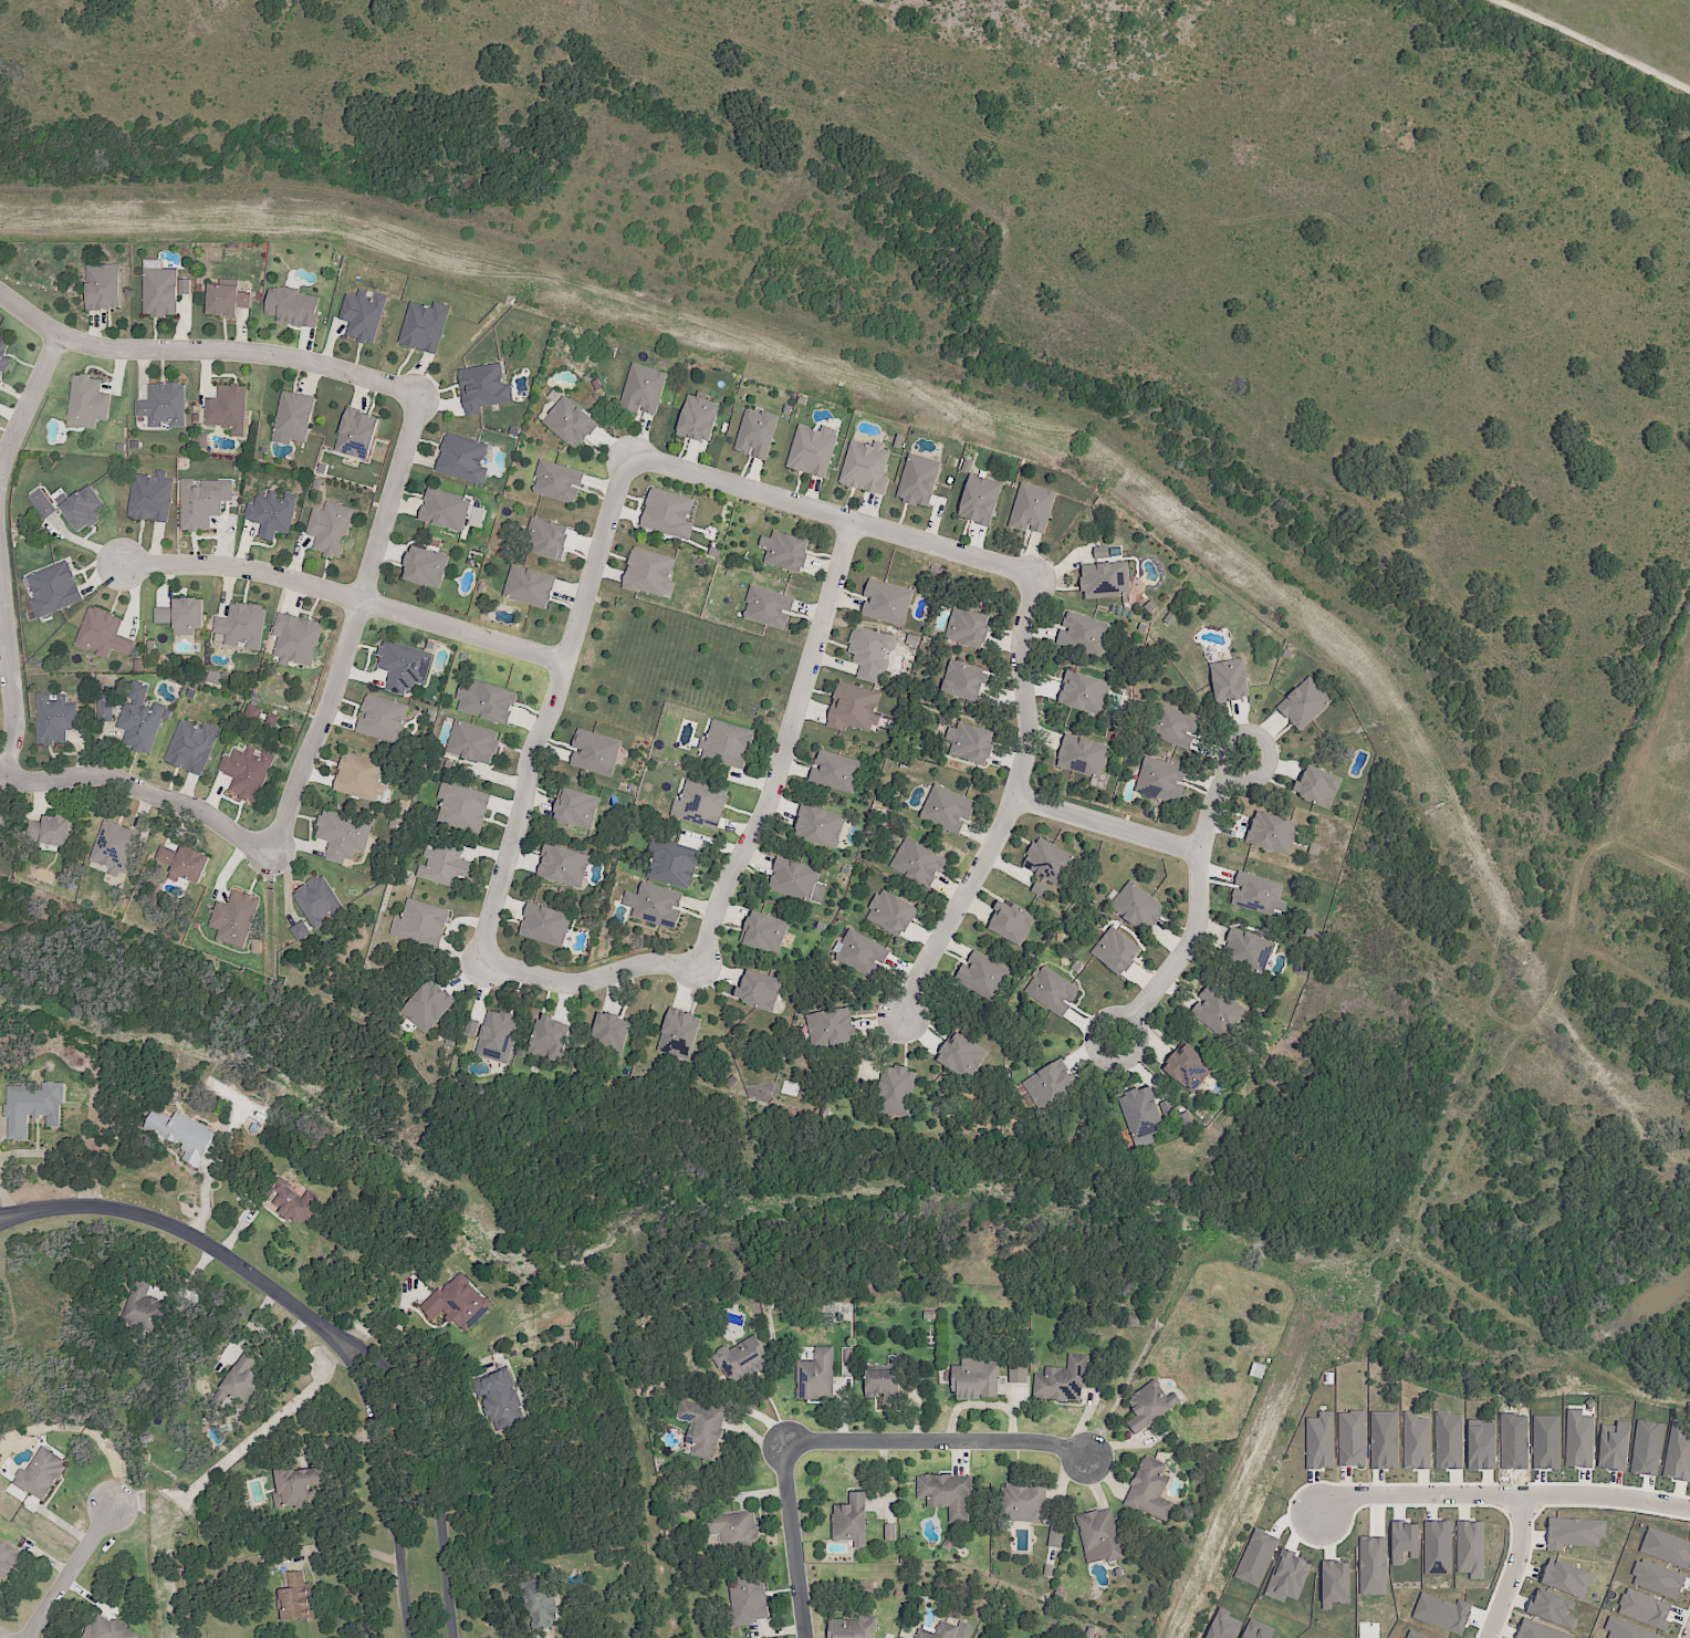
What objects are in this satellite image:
building: (105, 286)
building: (161, 291)
building: (227, 300)
building: (294, 307)
building: (359, 315)
building: (422, 325)
road: (207, 351)
building: (6, 354)
building: (482, 387)
building: (641, 388)
road: (30, 403)
building: (86, 404)
building: (165, 405)
building: (229, 409)
building: (293, 414)
building: (698, 417)
building: (571, 420)
building: (357, 427)
building: (754, 430)
building: (201, 440)
building: (810, 449)
building: (462, 455)
building: (865, 465)
building: (919, 478)
building: (557, 480)
building: (152, 498)
building: (979, 501)
building: (43, 503)
building: (199, 505)
building: (84, 509)
building: (447, 509)
building: (668, 510)
building: (1030, 510)
building: (277, 511)
road: (832, 515)
building: (334, 525)
building: (546, 535)
building: (790, 550)
building: (426, 564)
building: (654, 574)
building: (1104, 574)
building: (54, 585)
building: (528, 585)
road: (348, 597)
building: (886, 598)
building: (769, 604)
building: (182, 616)
building: (243, 620)
building: (968, 626)
road: (353, 632)
building: (1083, 632)
building: (105, 633)
building: (299, 638)
building: (872, 651)
building: (405, 664)
park: (667, 667)
road: (10, 671)
building: (967, 679)
building: (1233, 685)
building: (1082, 689)
building: (493, 696)
building: (106, 703)
building: (854, 706)
building: (1307, 706)
road: (552, 707)
building: (252, 711)
building: (388, 717)
building: (140, 718)
building: (56, 719)
building: (271, 720)
building: (1178, 732)
building: (729, 742)
building: (973, 742)
building: (474, 743)
building: (191, 748)
road: (785, 749)
building: (595, 751)
building: (1077, 752)
building: (257, 768)
building: (836, 770)
building: (366, 775)
building: (1165, 784)
road: (139, 791)
building: (1323, 791)
building: (469, 802)
building: (576, 802)
building: (701, 803)
building: (947, 806)
road: (1010, 806)
building: (2, 818)
building: (820, 823)
road: (1107, 826)
building: (1269, 828)
building: (54, 830)
building: (344, 831)
building: (117, 847)
building: (1050, 859)
building: (184, 860)
building: (920, 862)
building: (566, 863)
building: (675, 864)
building: (450, 865)
building: (791, 878)
building: (1040, 889)
road: (1614, 893)
building: (1259, 895)
building: (322, 901)
building: (661, 906)
road: (1198, 906)
building: (1141, 910)
building: (234, 918)
building: (896, 918)
building: (426, 922)
building: (544, 922)
building: (762, 926)
building: (1013, 928)
building: (299, 931)
building: (1249, 947)
building: (1119, 954)
building: (865, 957)
building: (982, 978)
road: (585, 982)
building: (763, 992)
building: (1055, 994)
building: (431, 1002)
building: (1223, 1015)
building: (615, 1027)
building: (680, 1029)
building: (494, 1033)
building: (836, 1034)
building: (550, 1036)
building: (961, 1048)
building: (1183, 1065)
building: (894, 1084)
building: (783, 1088)
building: (1055, 1089)
building: (33, 1107)
building: (1147, 1113)
building: (184, 1135)
road: (205, 1190)
building: (299, 1202)
road: (28, 1213)
road: (27, 1220)
road: (195, 1239)
road: (1386, 1241)
building: (453, 1300)
building: (145, 1310)
building: (744, 1363)
building: (1018, 1374)
road: (450, 1376)
building: (818, 1377)
building: (1066, 1379)
building: (242, 1381)
building: (978, 1383)
building: (887, 1385)
building: (500, 1401)
road: (968, 1406)
building: (1155, 1410)
road: (1014, 1412)
road: (758, 1417)
road: (1086, 1417)
road: (843, 1421)
road: (916, 1421)
building: (705, 1429)
road: (755, 1436)
building: (1350, 1439)
building: (1578, 1439)
building: (1384, 1440)
building: (1319, 1441)
building: (1416, 1441)
building: (1448, 1441)
road: (337, 1443)
road: (938, 1444)
road: (1124, 1444)
building: (1613, 1447)
building: (1678, 1453)
road: (432, 1454)
road: (962, 1462)
road: (389, 1470)
building: (41, 1475)
road: (884, 1478)
road: (1108, 1479)
road: (1064, 1480)
road: (1096, 1481)
building: (299, 1488)
building: (1156, 1493)
road: (1502, 1493)
road: (761, 1495)
building: (950, 1498)
building: (1031, 1503)
building: (852, 1520)
building: (738, 1531)
building: (894, 1532)
building: (1574, 1533)
building: (1055, 1535)
building: (1103, 1536)
road: (795, 1541)
building: (948, 1543)
building: (1404, 1543)
building: (1437, 1547)
building: (1470, 1548)
road: (352, 1551)
building: (11, 1559)
building: (1371, 1566)
road: (1514, 1566)
road: (71, 1573)
building: (1566, 1578)
building: (1657, 1578)
building: (1335, 1582)
building: (298, 1598)
building: (751, 1603)
building: (541, 1604)
building: (1644, 1609)
building: (858, 1627)
building: (109, 1629)
building: (1626, 1630)
building: (942, 1631)
building: (1538, 1631)
road: (781, 1632)

